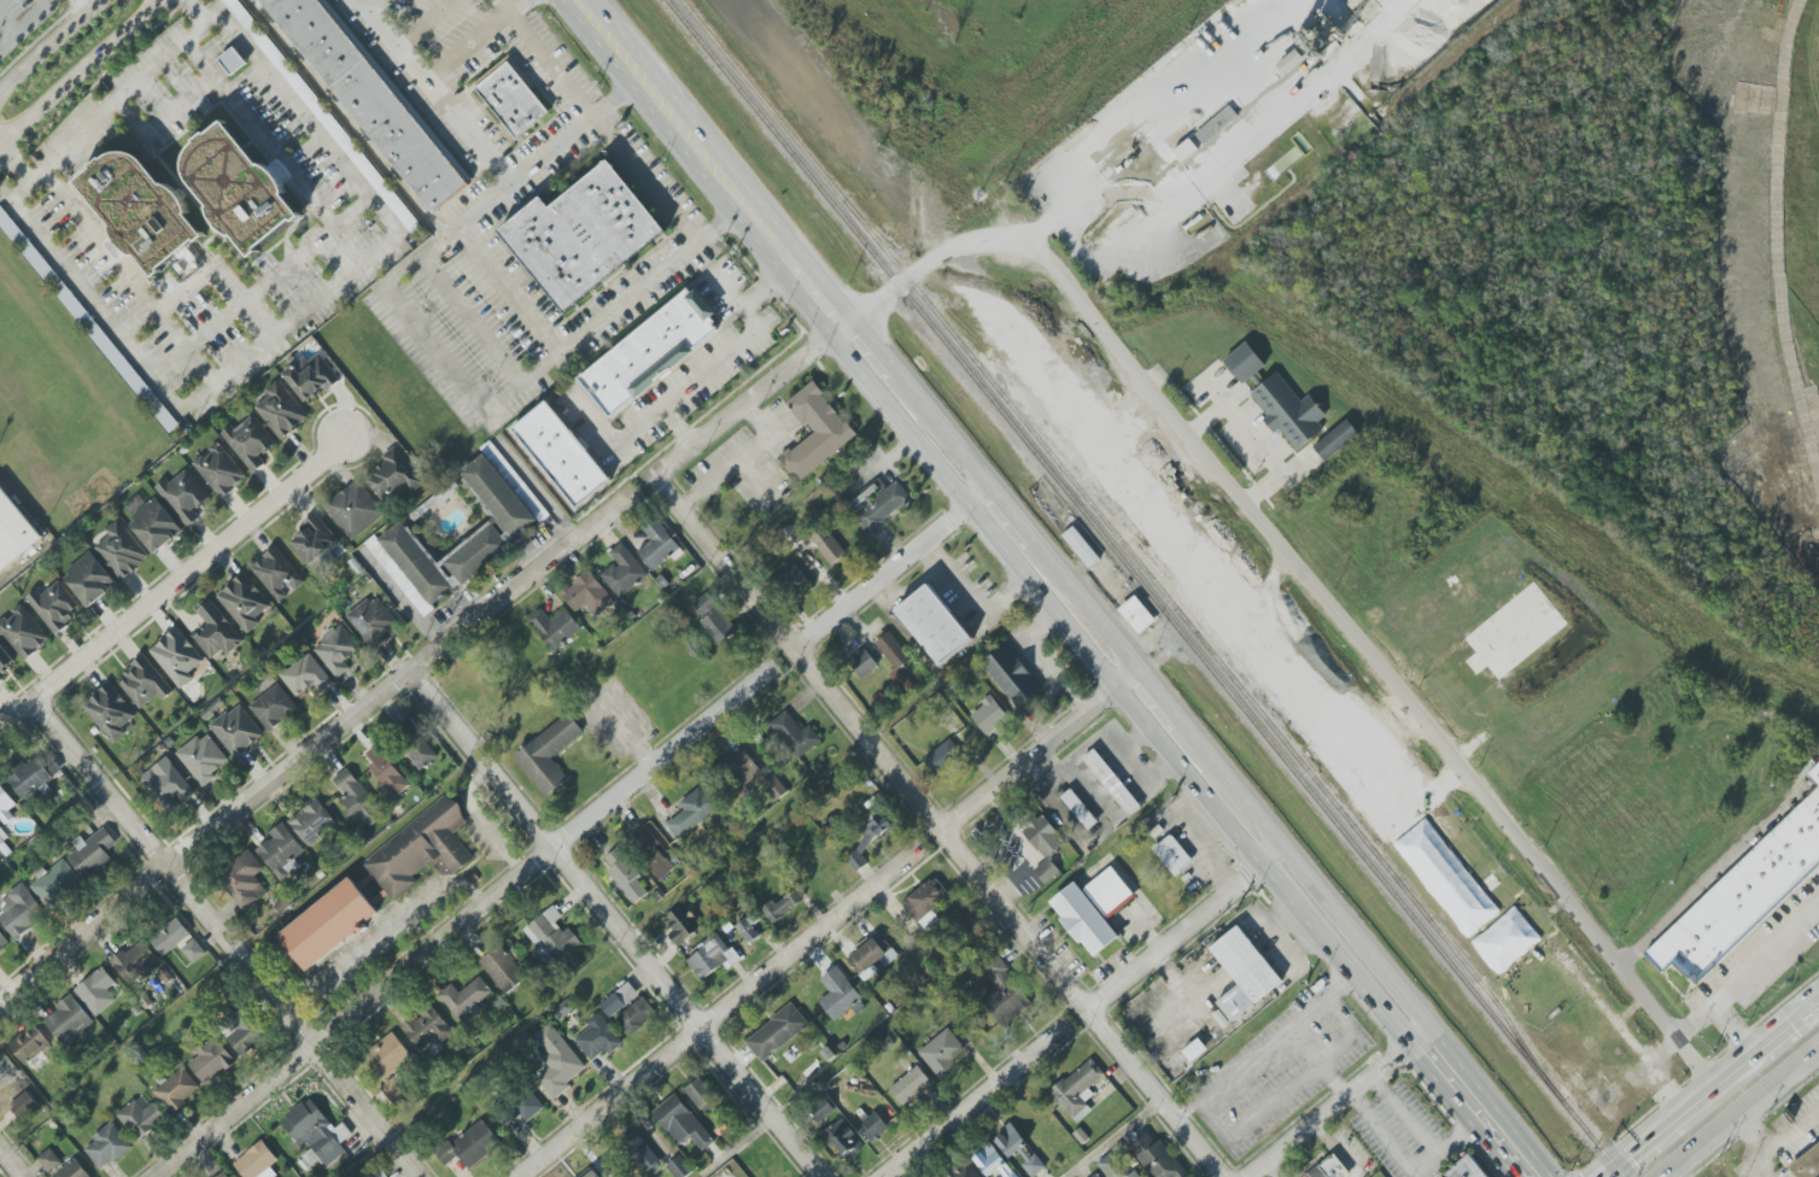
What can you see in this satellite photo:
road: (369, 2)
road: (84, 6)
road: (508, 6)
road: (23, 23)
parking lot: (25, 25)
road: (475, 40)
road: (609, 40)
road: (49, 42)
building: (233, 62)
building: (1291, 62)
road: (554, 63)
road: (80, 70)
road: (115, 94)
road: (618, 98)
building: (370, 99)
building: (513, 99)
road: (347, 119)
road: (467, 133)
building: (1206, 133)
road: (1093, 135)
road: (695, 139)
road: (271, 150)
building: (1185, 151)
road: (644, 178)
building: (239, 188)
building: (140, 209)
road: (770, 224)
building: (581, 235)
road: (948, 254)
road: (794, 257)
road: (221, 276)
road: (258, 288)
road: (818, 293)
railway: (1130, 300)
road: (305, 311)
building: (87, 321)
road: (467, 322)
road: (881, 328)
road: (870, 347)
road: (725, 352)
building: (649, 353)
building: (1245, 363)
building: (310, 376)
road: (761, 386)
road: (496, 398)
building: (281, 410)
building: (1289, 411)
road: (944, 428)
building: (814, 432)
road: (615, 438)
building: (1334, 439)
building: (250, 443)
road: (1258, 445)
building: (556, 456)
building: (495, 457)
road: (739, 459)
building: (220, 470)
building: (393, 475)
road: (536, 488)
building: (183, 496)
building: (878, 505)
building: (355, 510)
road: (1012, 510)
building: (154, 526)
building: (13, 532)
building: (498, 535)
building: (315, 540)
building: (657, 544)
building: (827, 545)
building: (1081, 546)
railway: (1125, 547)
building: (122, 551)
road: (891, 563)
building: (622, 572)
building: (276, 574)
building: (794, 579)
building: (89, 580)
road: (171, 582)
railway: (1145, 587)
building: (587, 593)
road: (1040, 597)
building: (244, 602)
road: (1087, 604)
building: (54, 605)
building: (1136, 615)
building: (714, 619)
building: (373, 621)
building: (932, 626)
building: (555, 627)
building: (23, 632)
building: (216, 632)
building: (337, 650)
building: (893, 650)
road: (797, 651)
building: (177, 657)
road: (1371, 657)
building: (5, 661)
building: (862, 663)
building: (1012, 675)
building: (305, 677)
building: (144, 684)
road: (1159, 696)
building: (273, 707)
building: (111, 712)
building: (989, 715)
building: (236, 731)
building: (795, 734)
road: (316, 746)
building: (417, 746)
road: (1042, 746)
building: (548, 754)
building: (942, 756)
building: (203, 759)
building: (739, 769)
building: (387, 772)
building: (1814, 773)
building: (35, 774)
building: (1112, 783)
building: (168, 784)
building: (774, 787)
building: (356, 798)
building: (5, 802)
building: (1078, 809)
building: (692, 812)
road: (478, 819)
building: (311, 821)
building: (2, 836)
building: (1043, 836)
building: (864, 842)
building: (280, 850)
building: (422, 850)
building: (92, 853)
building: (654, 853)
road: (1271, 854)
building: (1172, 855)
road: (1729, 862)
building: (1046, 871)
building: (625, 873)
building: (1446, 878)
building: (244, 880)
building: (55, 884)
building: (1110, 892)
building: (1742, 892)
building: (925, 902)
building: (780, 906)
building: (19, 910)
road: (1018, 912)
road: (458, 919)
building: (1083, 919)
road: (618, 923)
building: (683, 924)
building: (328, 925)
building: (749, 927)
road: (1174, 931)
building: (552, 935)
building: (170, 936)
road: (223, 939)
building: (1507, 941)
building: (2, 942)
road: (1368, 948)
building: (193, 950)
building: (712, 958)
road: (1335, 958)
building: (135, 962)
building: (503, 968)
building: (1244, 972)
road: (1338, 988)
road: (1731, 988)
building: (98, 990)
building: (1002, 992)
building: (838, 994)
building: (466, 997)
building: (619, 1000)
building: (563, 1009)
road: (718, 1013)
building: (633, 1018)
road: (1696, 1018)
building: (68, 1019)
road: (1789, 1027)
building: (427, 1029)
building: (242, 1031)
building: (777, 1032)
road: (1353, 1036)
building: (597, 1037)
building: (29, 1043)
building: (1195, 1050)
building: (942, 1052)
building: (388, 1055)
building: (210, 1060)
building: (557, 1061)
building: (6, 1070)
road: (1333, 1081)
building: (911, 1085)
road: (1718, 1085)
building: (14, 1087)
building: (394, 1089)
building: (177, 1090)
building: (1077, 1090)
road: (1154, 1093)
building: (702, 1096)
road: (971, 1100)
road: (1338, 1100)
building: (24, 1102)
building: (527, 1107)
road: (1187, 1109)
road: (1736, 1109)
road: (1464, 1114)
building: (140, 1118)
building: (682, 1123)
road: (1754, 1123)
building: (873, 1128)
road: (1416, 1130)
road: (1382, 1132)
road: (1790, 1134)
building: (316, 1135)
road: (1111, 1137)
building: (844, 1140)
road: (1755, 1141)
building: (470, 1146)
building: (106, 1147)
building: (1018, 1148)
road: (1643, 1148)
building: (642, 1154)
building: (1157, 1158)
building: (48, 1160)
road: (1423, 1160)
building: (257, 1161)
building: (992, 1161)
building: (1806, 1163)
road: (11, 1164)
building: (1115, 1166)
building: (679, 1167)
building: (1329, 1169)
building: (1464, 1169)
building: (72, 1170)
building: (963, 1170)
building: (590, 1173)
building: (222, 1175)
building: (376, 1175)
building: (1095, 1176)

